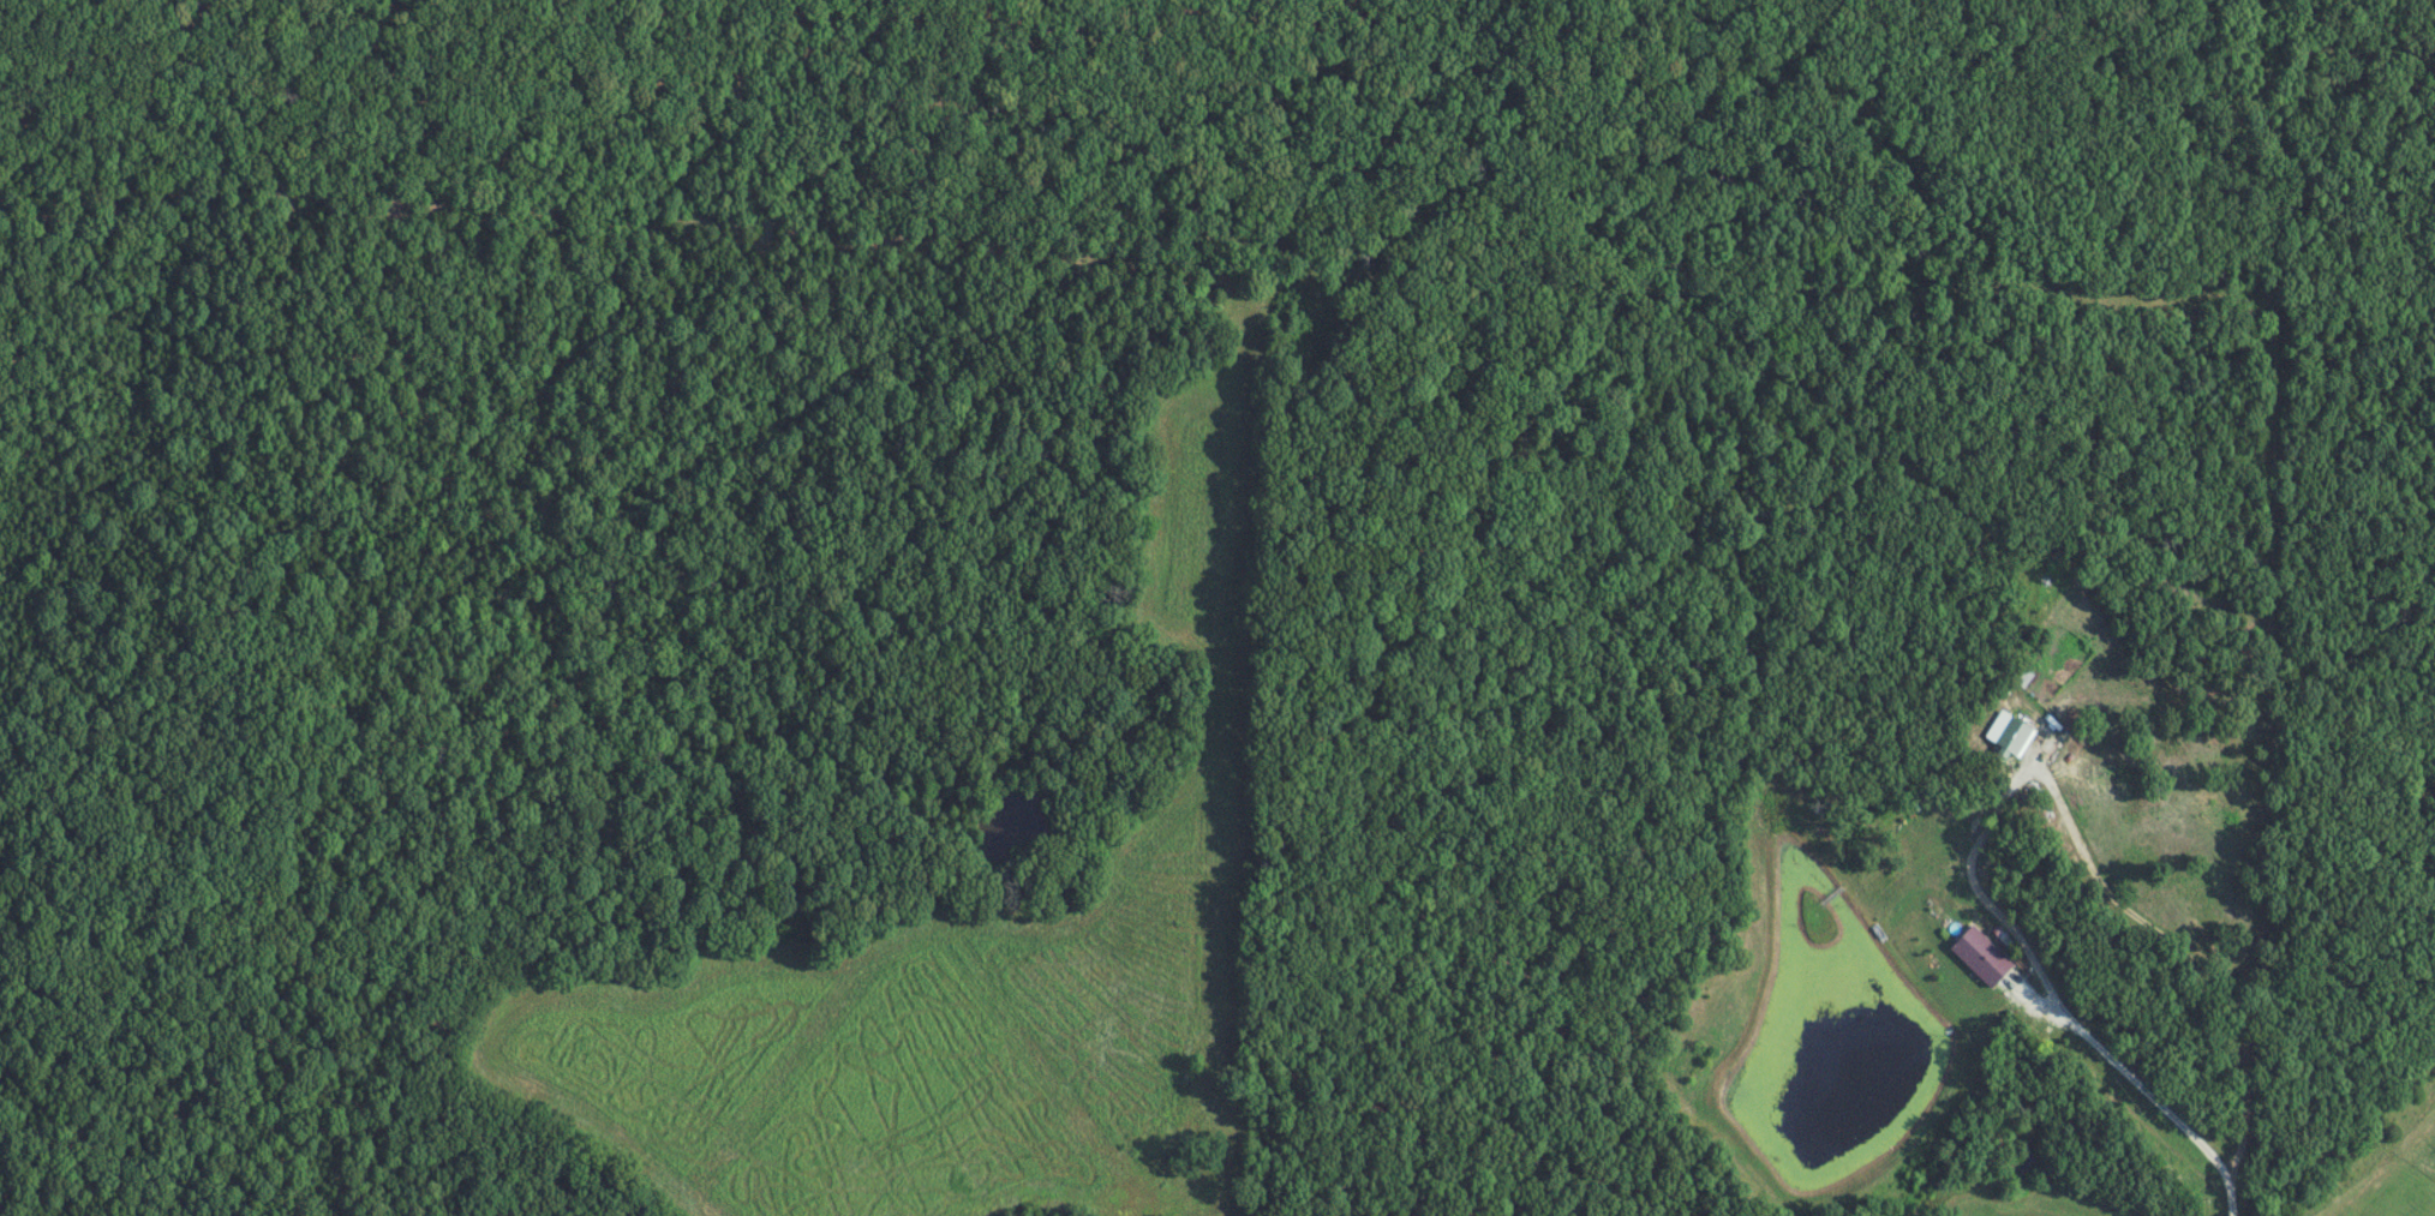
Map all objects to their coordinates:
building: (2002, 755)
road: (2050, 995)

